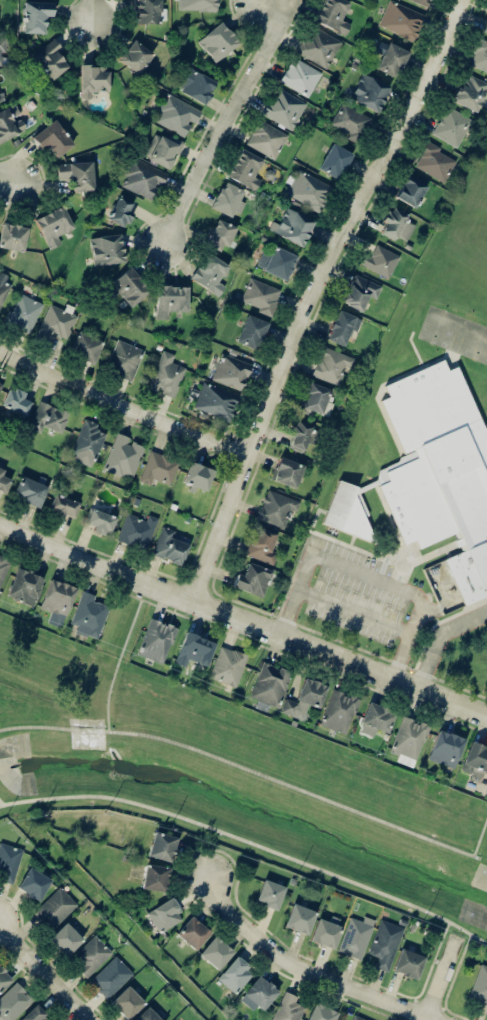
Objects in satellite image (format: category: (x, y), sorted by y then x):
building: (422, 1)
building: (197, 5)
road: (270, 9)
road: (93, 10)
building: (146, 11)
building: (333, 15)
building: (36, 16)
building: (401, 20)
building: (486, 29)
building: (217, 41)
building: (4, 45)
building: (319, 47)
building: (135, 56)
building: (480, 56)
building: (50, 59)
building: (392, 59)
building: (300, 76)
building: (93, 79)
building: (196, 85)
building: (369, 92)
building: (470, 92)
building: (1, 97)
building: (284, 108)
building: (176, 114)
road: (225, 120)
building: (350, 121)
building: (10, 122)
building: (451, 126)
building: (52, 138)
building: (266, 139)
building: (162, 149)
building: (335, 160)
building: (434, 162)
building: (245, 169)
building: (77, 174)
building: (142, 178)
road: (8, 182)
building: (308, 189)
building: (411, 191)
building: (227, 199)
building: (122, 208)
building: (396, 224)
building: (54, 225)
building: (292, 226)
building: (220, 234)
building: (13, 236)
building: (107, 249)
building: (380, 261)
building: (276, 262)
building: (210, 273)
building: (3, 286)
building: (128, 286)
building: (360, 291)
building: (260, 295)
road: (318, 295)
building: (170, 300)
building: (23, 313)
building: (55, 323)
building: (342, 328)
building: (251, 331)
building: (86, 347)
building: (124, 359)
building: (331, 365)
building: (231, 371)
building: (166, 375)
building: (0, 383)
building: (316, 399)
building: (15, 401)
building: (216, 401)
road: (122, 407)
building: (48, 417)
building: (300, 435)
building: (87, 443)
building: (123, 456)
building: (158, 468)
building: (287, 471)
building: (431, 474)
building: (198, 477)
building: (3, 481)
building: (29, 491)
building: (63, 506)
building: (276, 508)
building: (101, 521)
building: (137, 530)
building: (261, 545)
building: (169, 547)
road: (332, 558)
building: (3, 567)
building: (252, 579)
building: (24, 586)
building: (58, 598)
road: (290, 610)
building: (89, 615)
road: (242, 618)
road: (441, 636)
building: (156, 640)
building: (194, 649)
road: (119, 656)
building: (228, 665)
building: (270, 685)
building: (304, 698)
building: (339, 711)
building: (376, 719)
building: (409, 741)
building: (446, 748)
building: (475, 760)
road: (245, 770)
river: (17, 773)
river: (264, 815)
road: (479, 838)
road: (249, 843)
building: (162, 846)
building: (9, 861)
building: (155, 877)
building: (34, 883)
building: (270, 893)
building: (54, 908)
building: (165, 914)
building: (299, 918)
building: (326, 931)
building: (193, 932)
building: (356, 936)
building: (65, 939)
building: (384, 944)
building: (216, 952)
building: (90, 955)
building: (408, 963)
road: (46, 972)
road: (307, 973)
building: (236, 974)
road: (442, 975)
building: (111, 976)
building: (4, 978)
building: (480, 985)
building: (258, 994)
building: (13, 1002)
building: (127, 1002)
building: (288, 1008)
building: (321, 1012)
building: (35, 1014)
road: (424, 1014)
building: (147, 1015)
building: (356, 1018)

